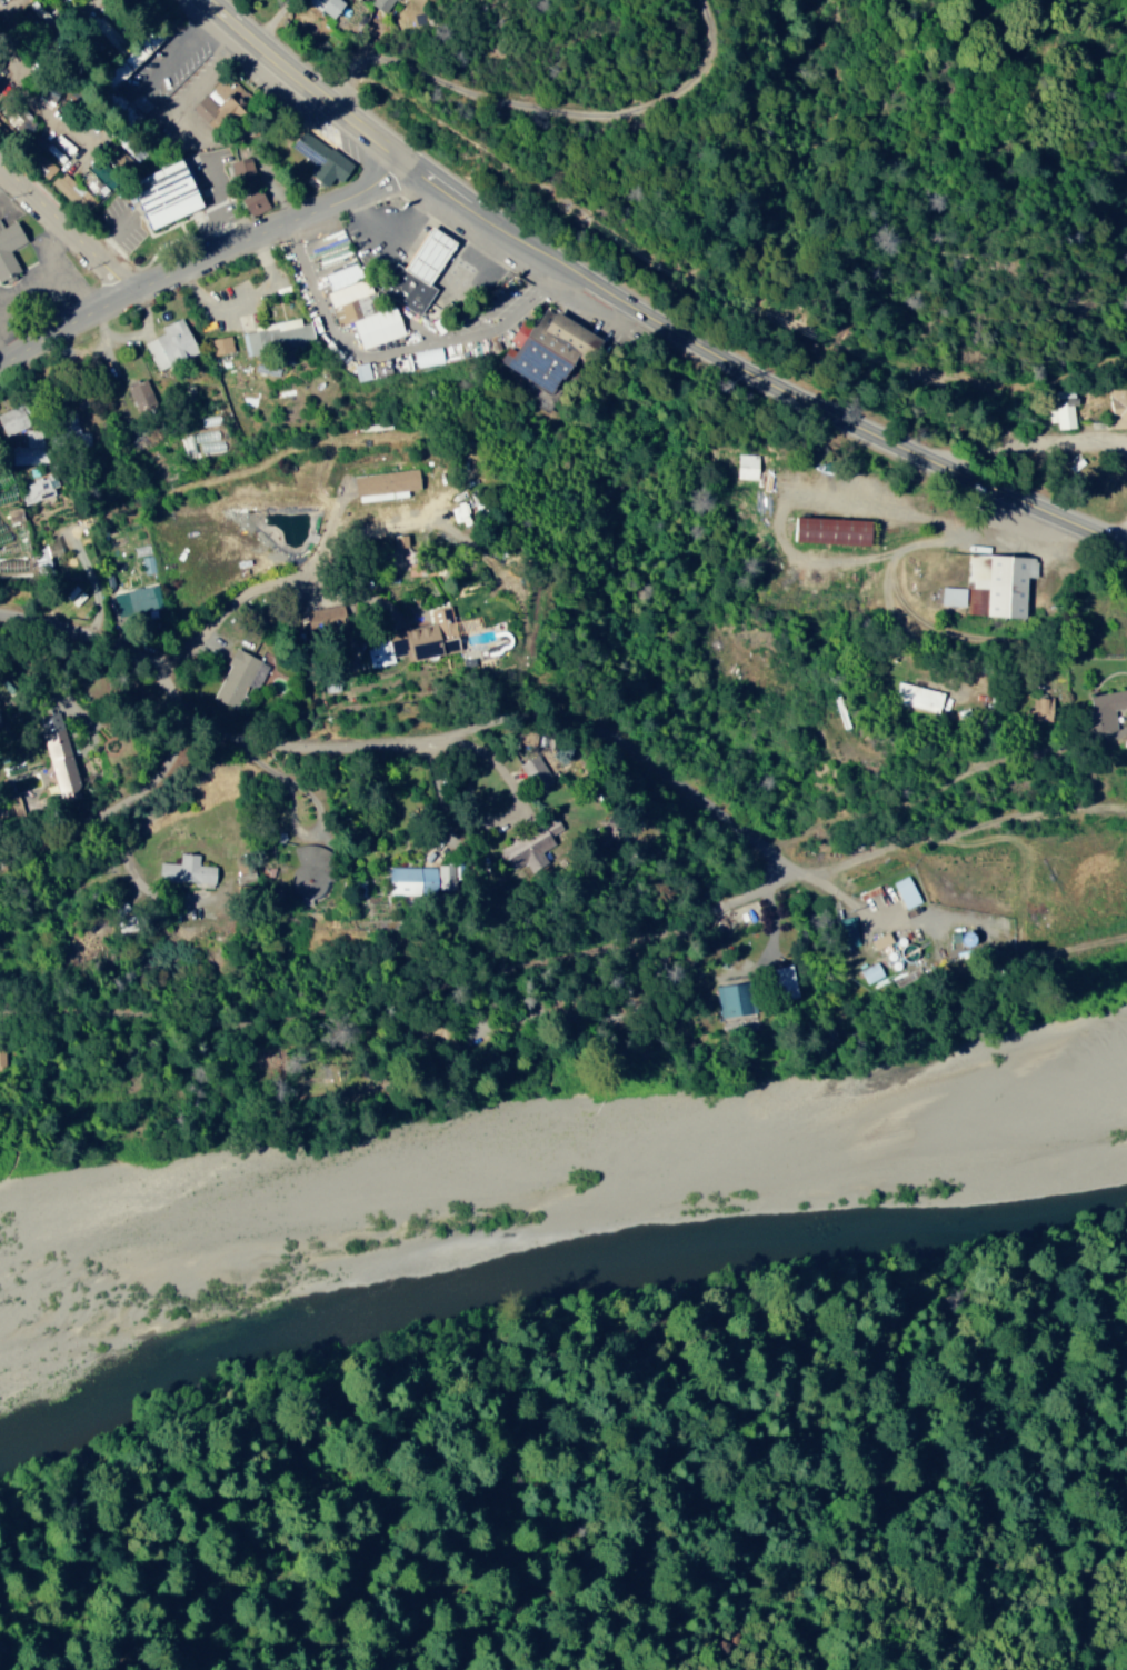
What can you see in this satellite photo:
building: (382, 3)
building: (336, 7)
parking lot: (158, 74)
building: (220, 111)
building: (19, 114)
building: (327, 162)
building: (246, 170)
building: (97, 173)
building: (63, 181)
building: (176, 193)
building: (257, 201)
road: (64, 240)
building: (10, 248)
road: (199, 267)
building: (422, 272)
building: (342, 274)
building: (365, 312)
road: (642, 312)
building: (279, 336)
building: (173, 343)
building: (543, 350)
building: (429, 356)
road: (398, 359)
building: (365, 370)
building: (143, 393)
building: (1117, 406)
building: (1061, 408)
building: (17, 418)
building: (0, 440)
building: (37, 443)
building: (745, 467)
building: (381, 483)
building: (462, 508)
building: (825, 529)
road: (937, 546)
building: (995, 581)
road: (1049, 581)
road: (363, 588)
road: (271, 591)
building: (949, 594)
building: (134, 599)
road: (279, 633)
building: (413, 639)
road: (88, 652)
building: (236, 677)
building: (915, 696)
building: (1038, 708)
building: (1101, 708)
road: (889, 712)
road: (463, 738)
building: (54, 751)
building: (533, 772)
road: (116, 813)
road: (964, 839)
building: (528, 844)
road: (770, 856)
building: (183, 869)
building: (307, 871)
building: (241, 872)
building: (409, 878)
building: (904, 891)
building: (846, 930)
road: (670, 954)
building: (779, 981)
road: (410, 998)
building: (728, 998)
building: (3, 1057)
river: (1037, 1207)
river: (747, 1247)
river: (257, 1313)
road: (809, 1533)

